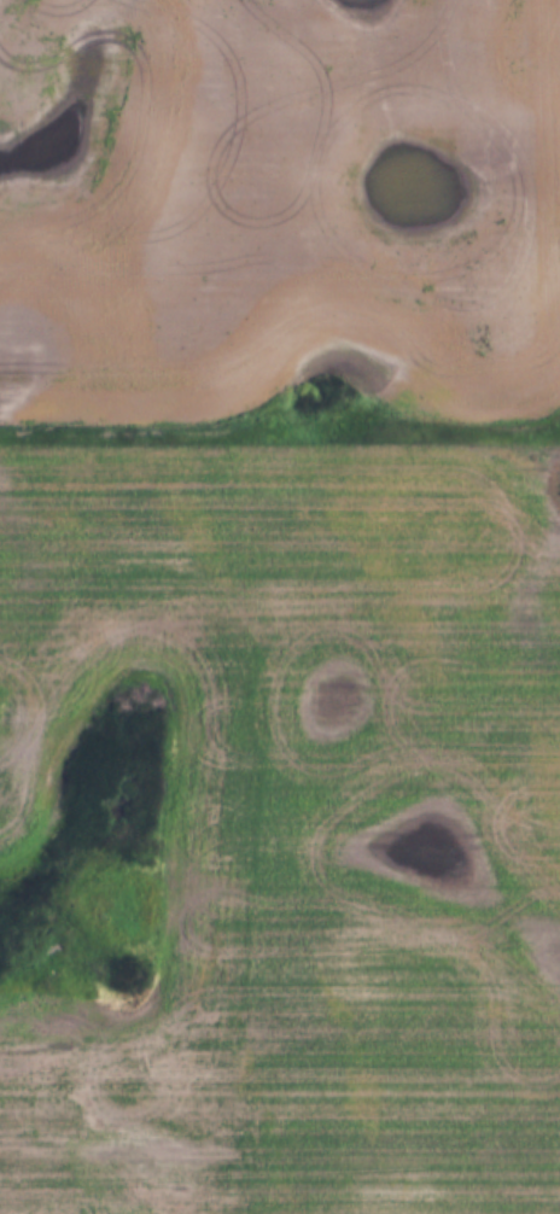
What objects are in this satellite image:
road: (71, 1161)
road: (16, 1208)

